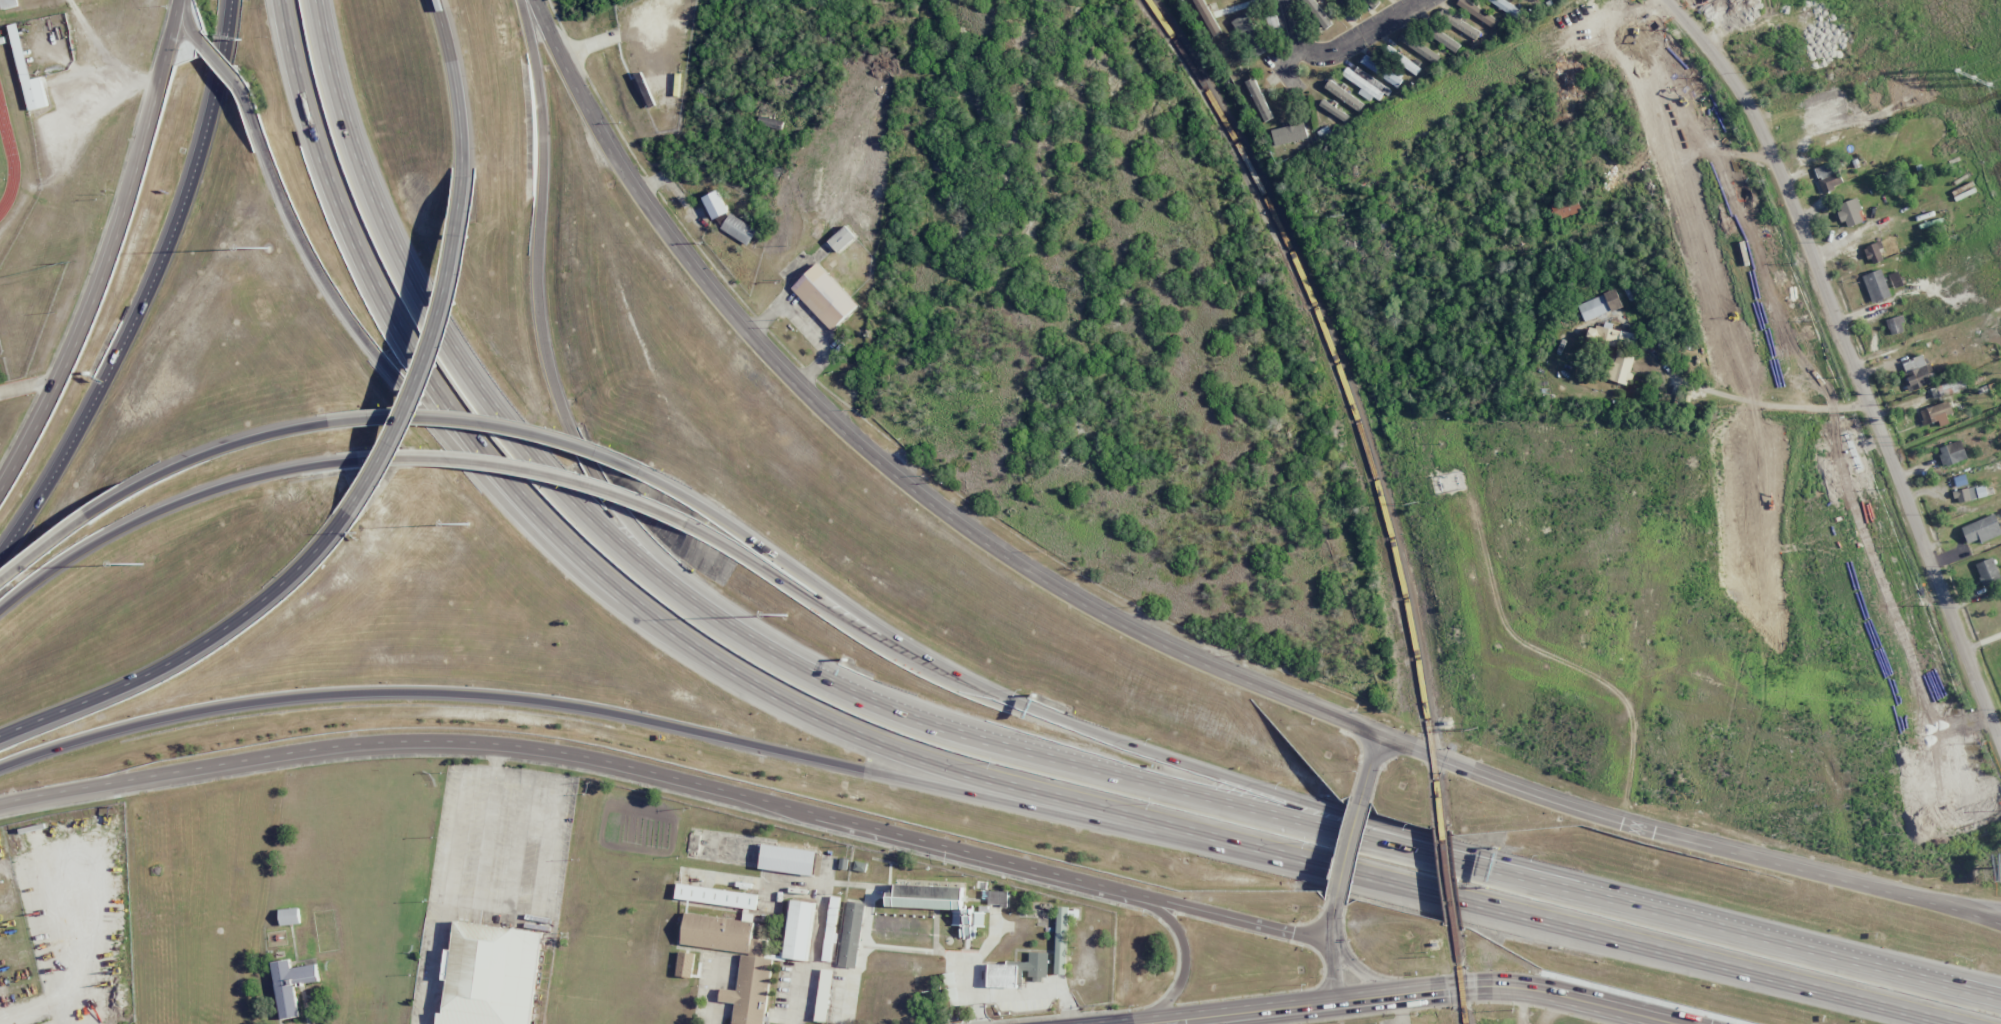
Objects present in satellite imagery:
building: (1532, 2)
building: (1371, 3)
building: (8, 4)
building: (1506, 7)
building: (1347, 8)
building: (1319, 13)
building: (1478, 13)
building: (1205, 15)
building: (1272, 21)
road: (189, 22)
building: (1459, 24)
building: (1445, 40)
road: (1338, 45)
building: (1419, 47)
building: (1234, 57)
building: (1402, 60)
road: (218, 61)
building: (1380, 71)
building: (27, 73)
power tower: (1973, 74)
building: (1570, 79)
road: (452, 82)
building: (1365, 83)
building: (1343, 96)
building: (1258, 99)
building: (1333, 110)
building: (768, 122)
building: (1288, 134)
track: (7, 160)
park: (0, 167)
building: (1828, 176)
building: (715, 204)
building: (1565, 207)
building: (1850, 213)
power tower: (1341, 217)
building: (738, 229)
building: (841, 238)
building: (1874, 252)
road: (111, 253)
building: (1895, 279)
building: (1876, 286)
road: (151, 289)
building: (824, 296)
building: (1599, 305)
building: (1895, 325)
road: (399, 332)
building: (1611, 337)
road: (561, 347)
road: (428, 354)
road: (1850, 356)
building: (1621, 368)
road: (389, 369)
building: (1916, 373)
road: (31, 383)
railway: (1346, 396)
building: (1936, 414)
road: (489, 422)
road: (206, 451)
building: (1952, 453)
road: (519, 469)
building: (1960, 480)
building: (1970, 493)
power tower: (1414, 503)
road: (156, 510)
building: (1982, 529)
road: (46, 544)
building: (1987, 572)
road: (858, 608)
road: (1149, 633)
road: (676, 640)
road: (699, 650)
road: (183, 652)
road: (652, 722)
power tower: (1474, 728)
road: (985, 737)
road: (226, 761)
road: (1366, 769)
road: (1233, 781)
road: (1009, 782)
road: (892, 832)
road: (1344, 854)
building: (790, 860)
building: (860, 866)
road: (449, 870)
railway: (1446, 878)
road: (1416, 889)
building: (720, 897)
building: (997, 898)
building: (930, 900)
road: (1972, 905)
building: (289, 916)
building: (830, 929)
building: (803, 933)
building: (854, 935)
building: (1061, 940)
road: (1328, 952)
building: (1038, 965)
road: (1179, 968)
road: (1361, 971)
building: (490, 975)
railway: (1458, 975)
building: (1006, 977)
road: (1756, 978)
building: (291, 984)
road: (1961, 985)
road: (1507, 988)
building: (824, 995)
road: (1242, 1013)

